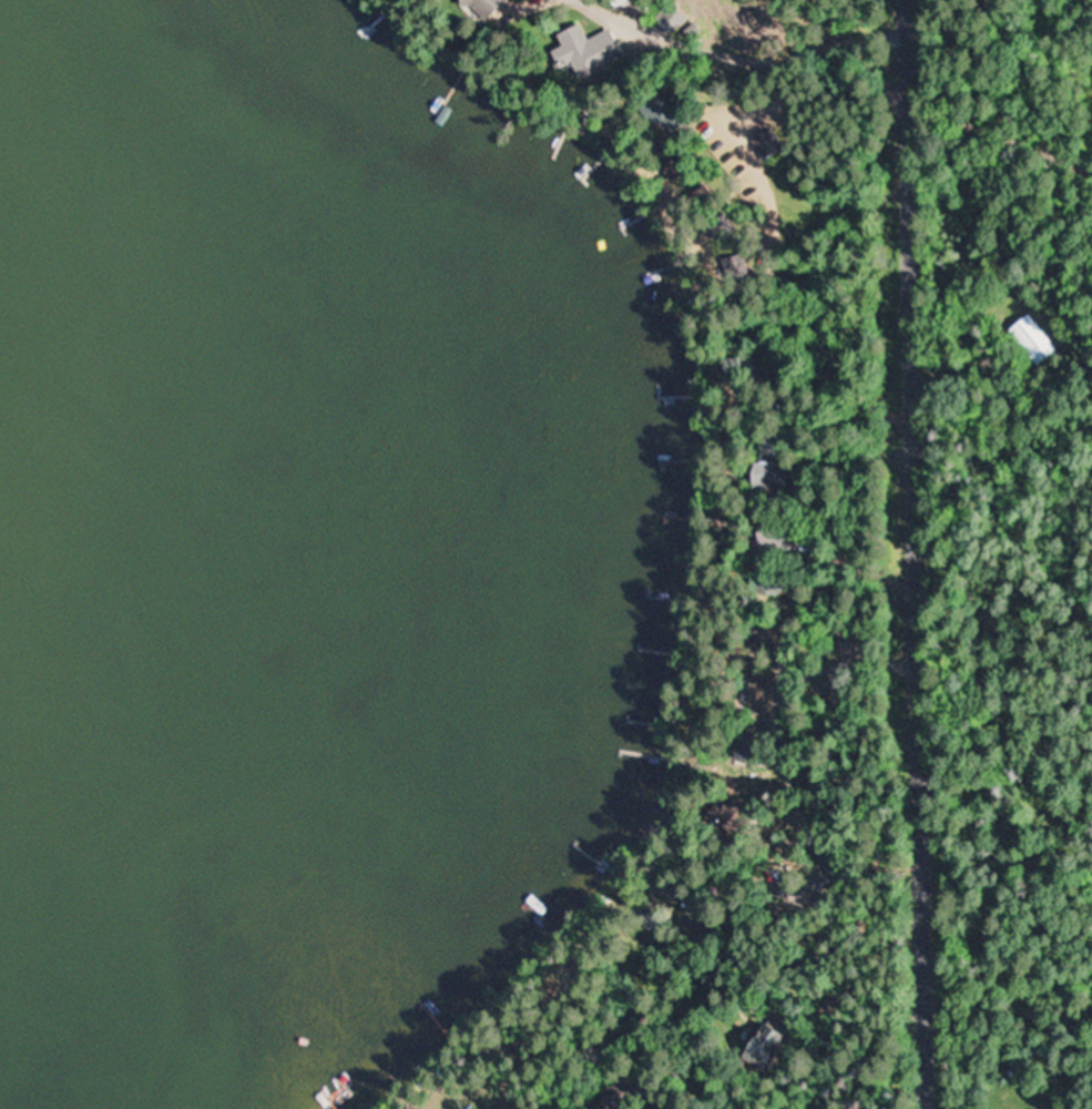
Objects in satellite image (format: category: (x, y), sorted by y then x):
building: (582, 51)
building: (888, 96)
building: (652, 108)
building: (765, 143)
building: (1033, 339)
building: (767, 475)
road: (918, 554)
building: (753, 691)
road: (804, 868)
building: (761, 1047)

